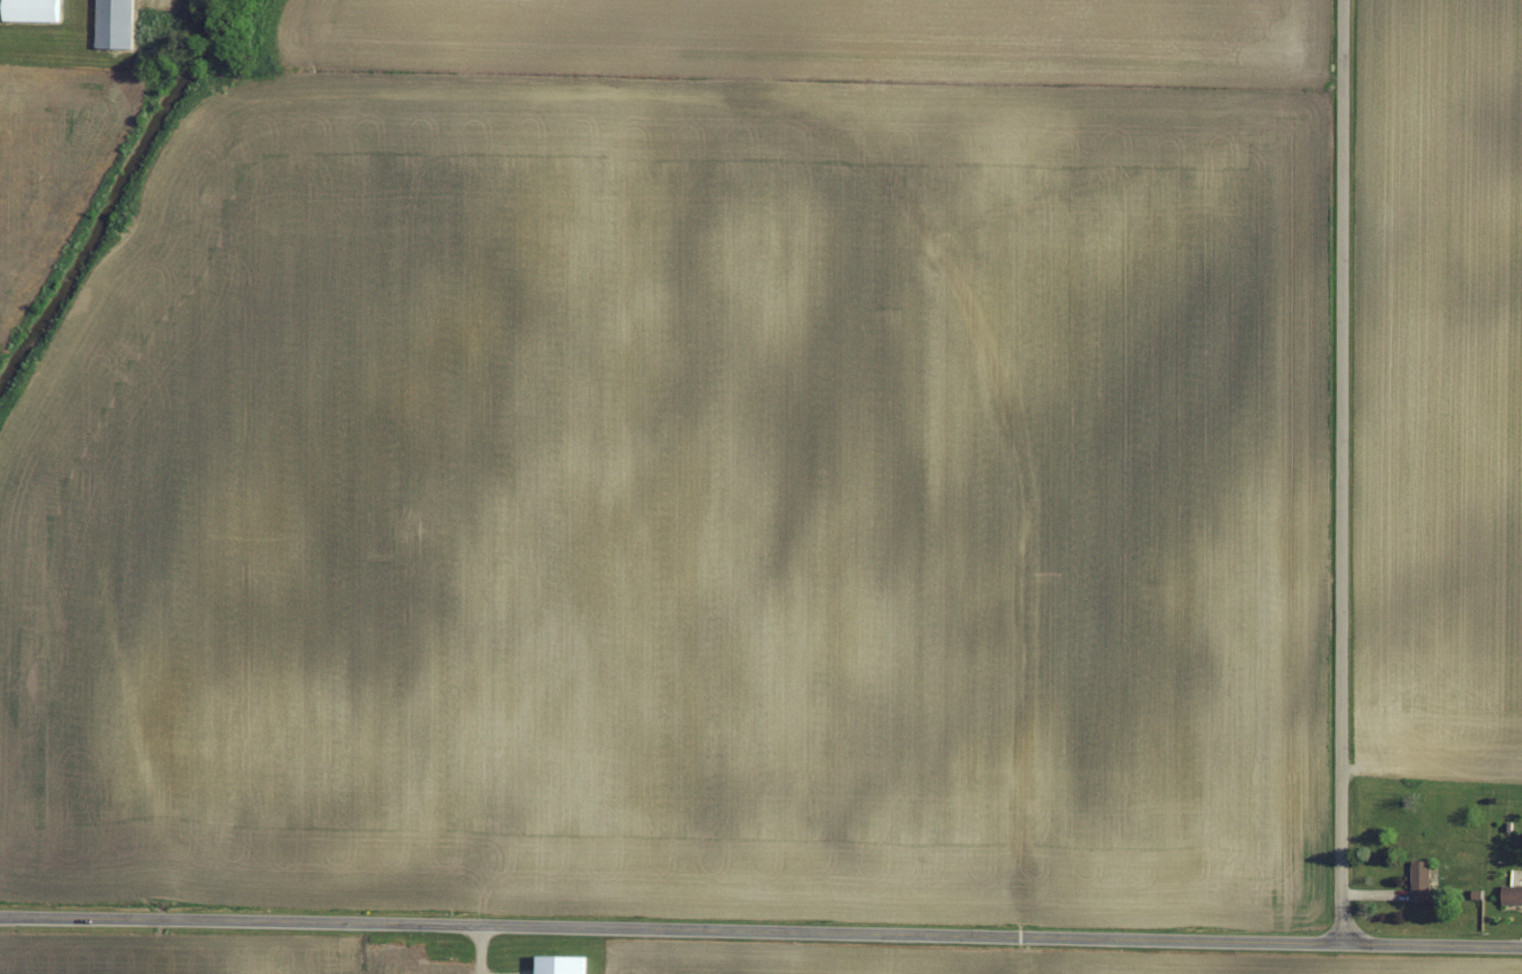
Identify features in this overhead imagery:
building: (30, 11)
building: (115, 23)
crop: (1437, 384)
road: (1339, 474)
road: (761, 929)
building: (564, 963)

